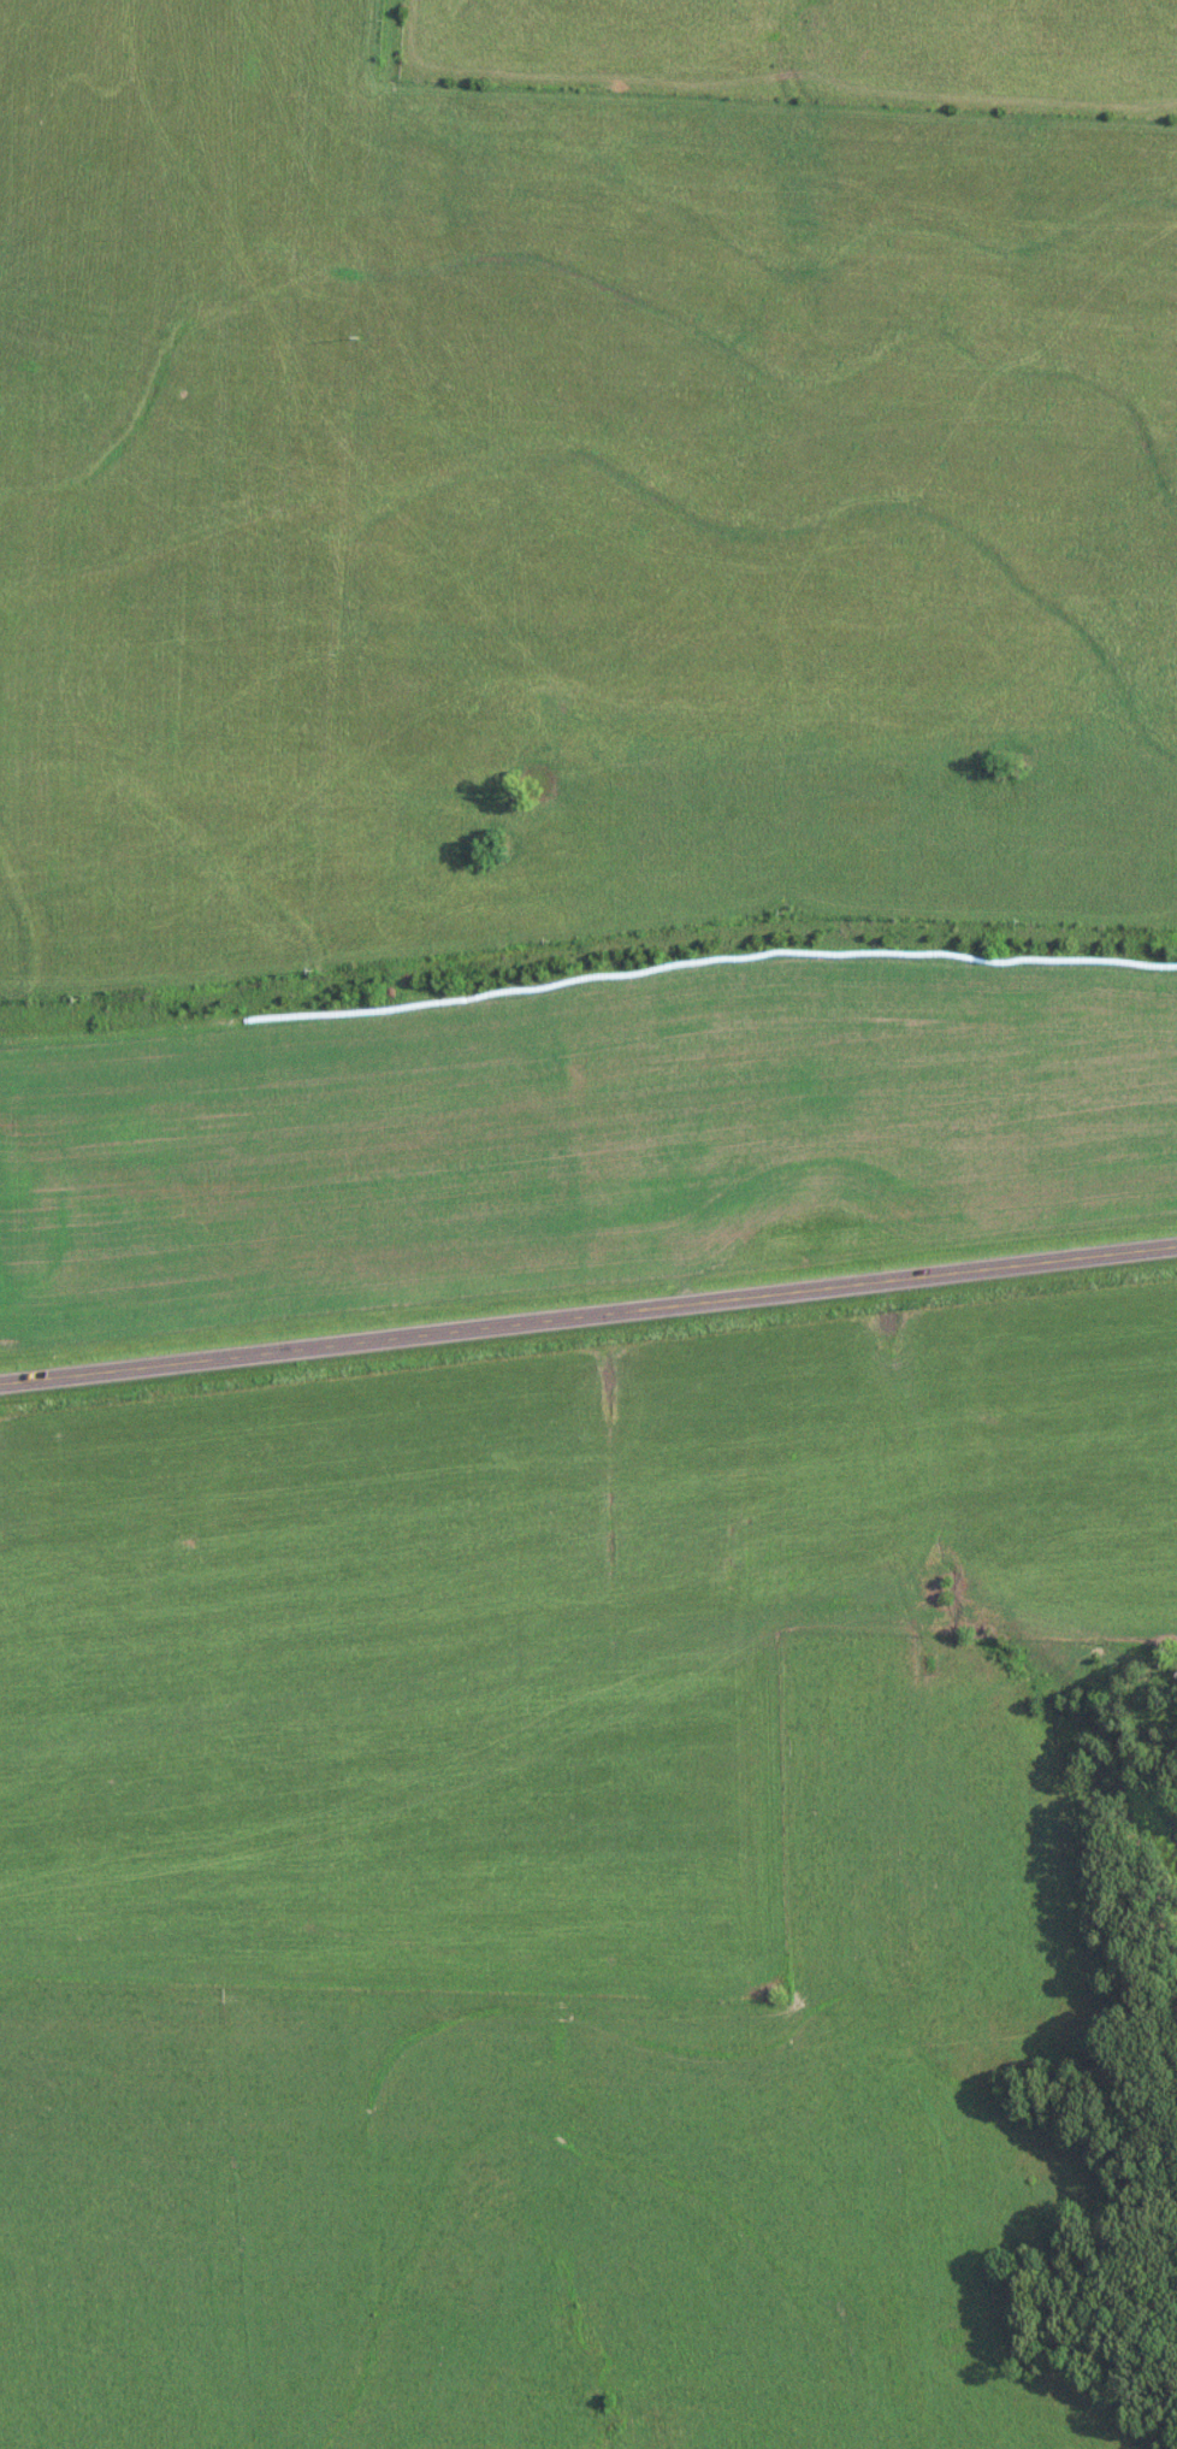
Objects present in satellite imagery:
building: (19, 161)
building: (173, 240)
building: (453, 320)
building: (691, 386)
building: (650, 418)
building: (1123, 445)
building: (581, 549)
building: (966, 556)
building: (312, 568)
building: (491, 706)
building: (406, 733)
building: (223, 739)
road: (588, 1310)

